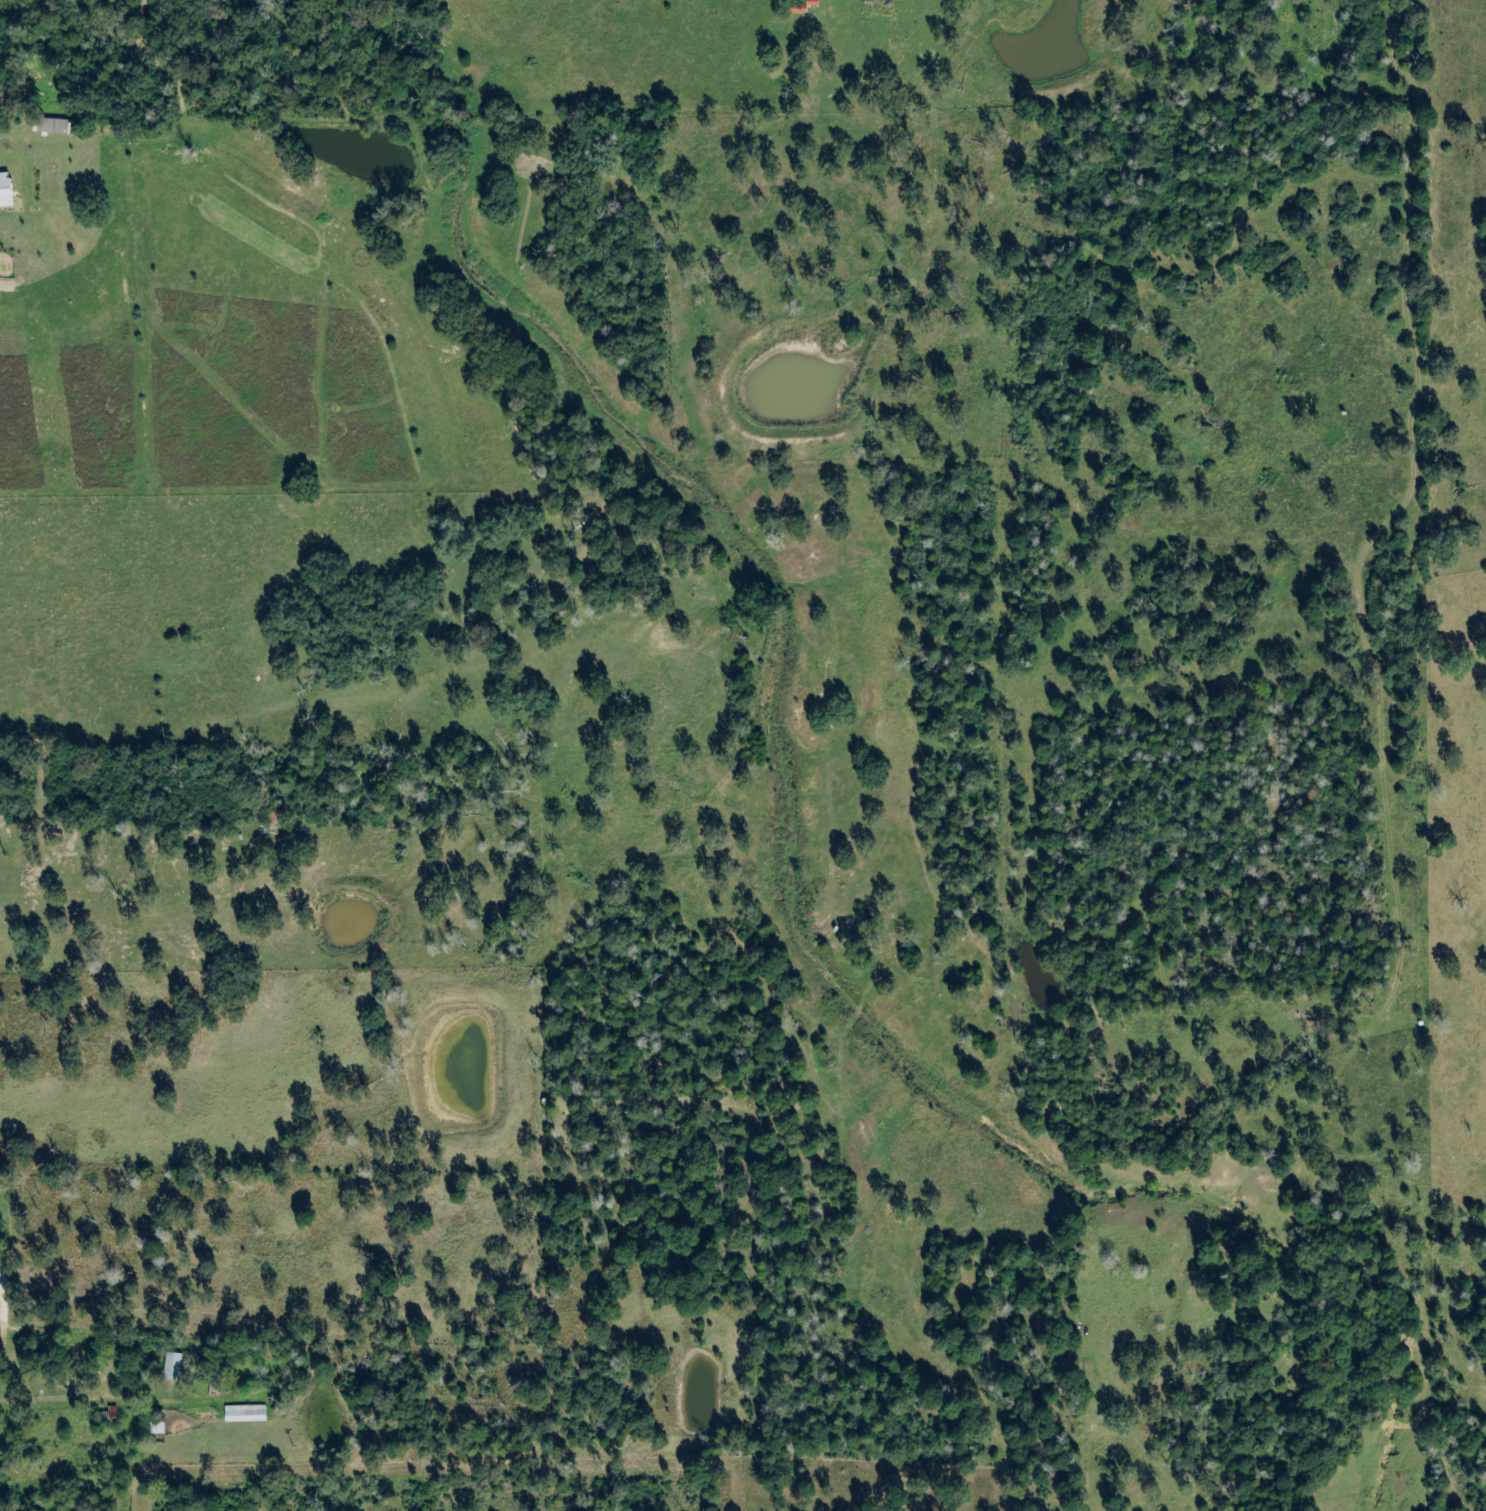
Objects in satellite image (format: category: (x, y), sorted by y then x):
building: (172, 1367)
building: (215, 1390)
road: (128, 1397)
building: (245, 1414)
building: (156, 1428)

